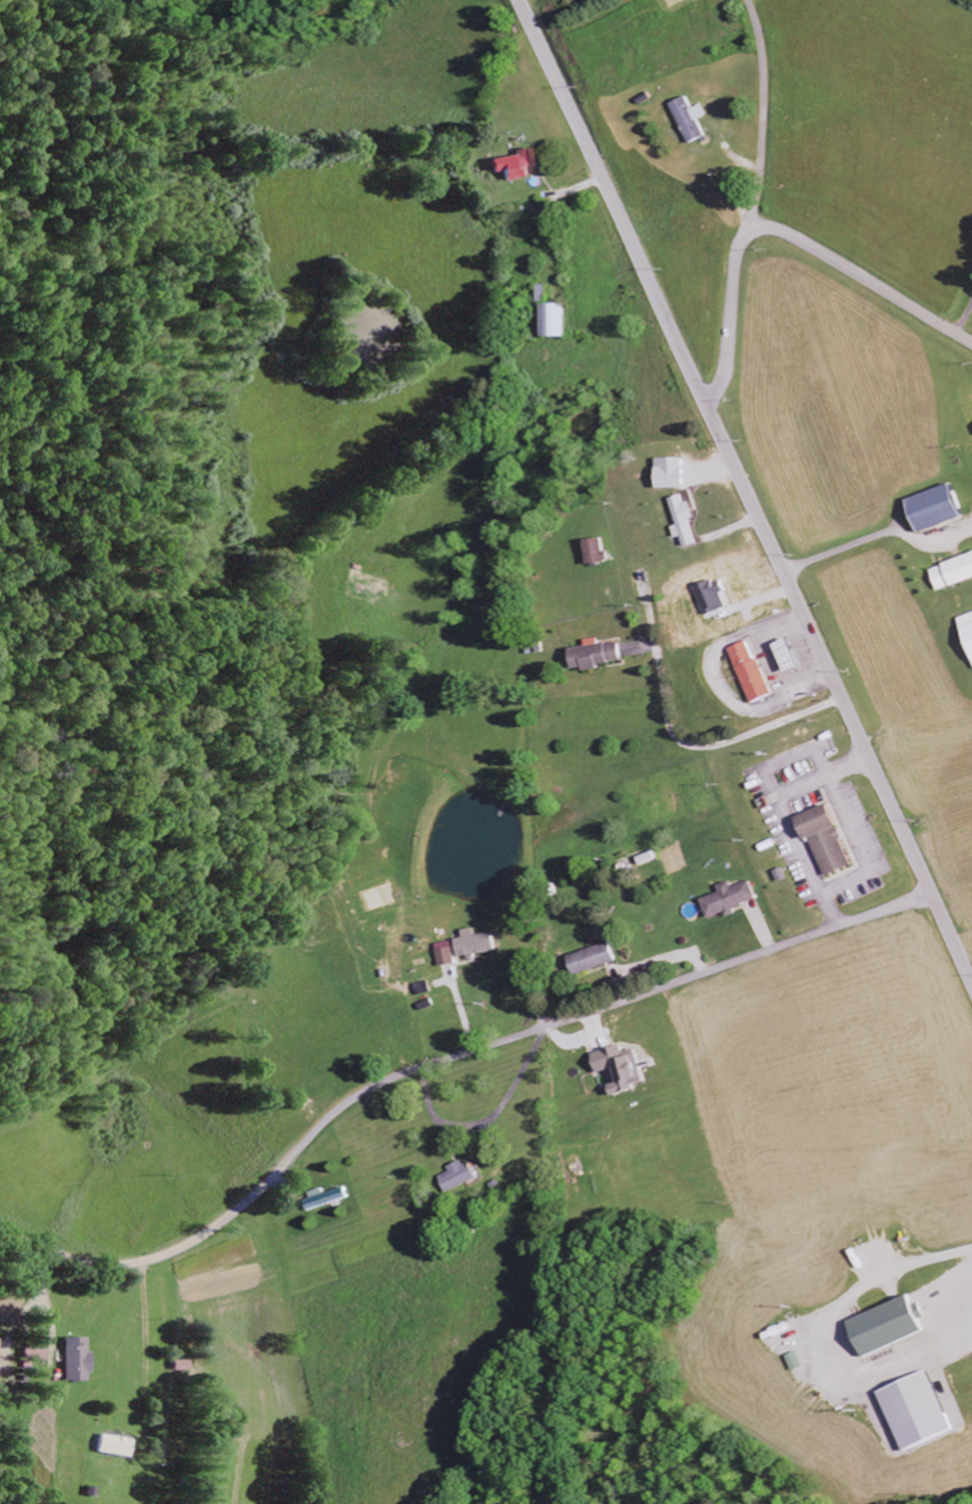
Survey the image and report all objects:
road: (762, 118)
building: (693, 120)
building: (517, 166)
road: (860, 274)
road: (727, 319)
building: (561, 321)
building: (676, 473)
road: (746, 491)
building: (942, 508)
building: (687, 521)
building: (600, 552)
building: (954, 574)
building: (969, 623)
building: (599, 655)
building: (795, 656)
building: (755, 674)
building: (832, 841)
building: (732, 900)
building: (479, 944)
building: (449, 955)
building: (597, 959)
road: (442, 1061)
building: (625, 1070)
building: (465, 1176)
building: (327, 1198)
building: (892, 1326)
building: (1, 1359)
building: (79, 1359)
building: (802, 1362)
building: (925, 1411)
building: (114, 1446)

